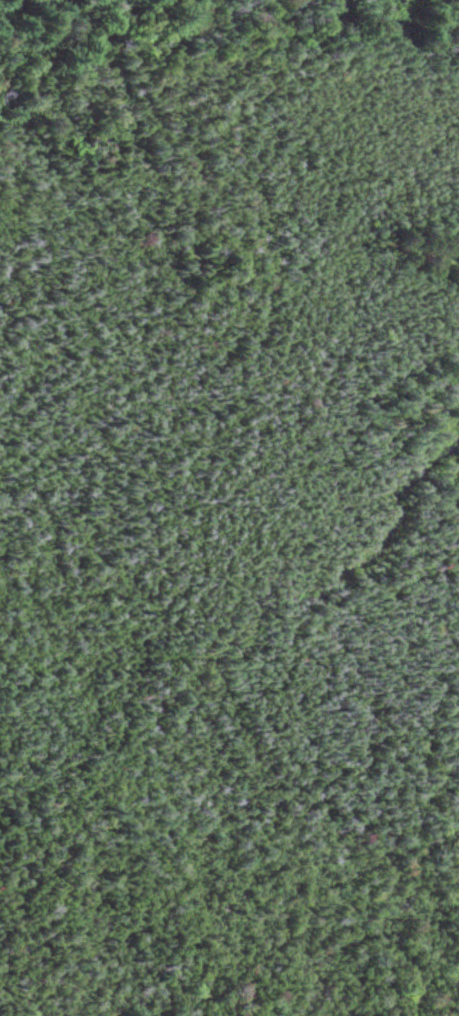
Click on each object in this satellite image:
road: (125, 7)

